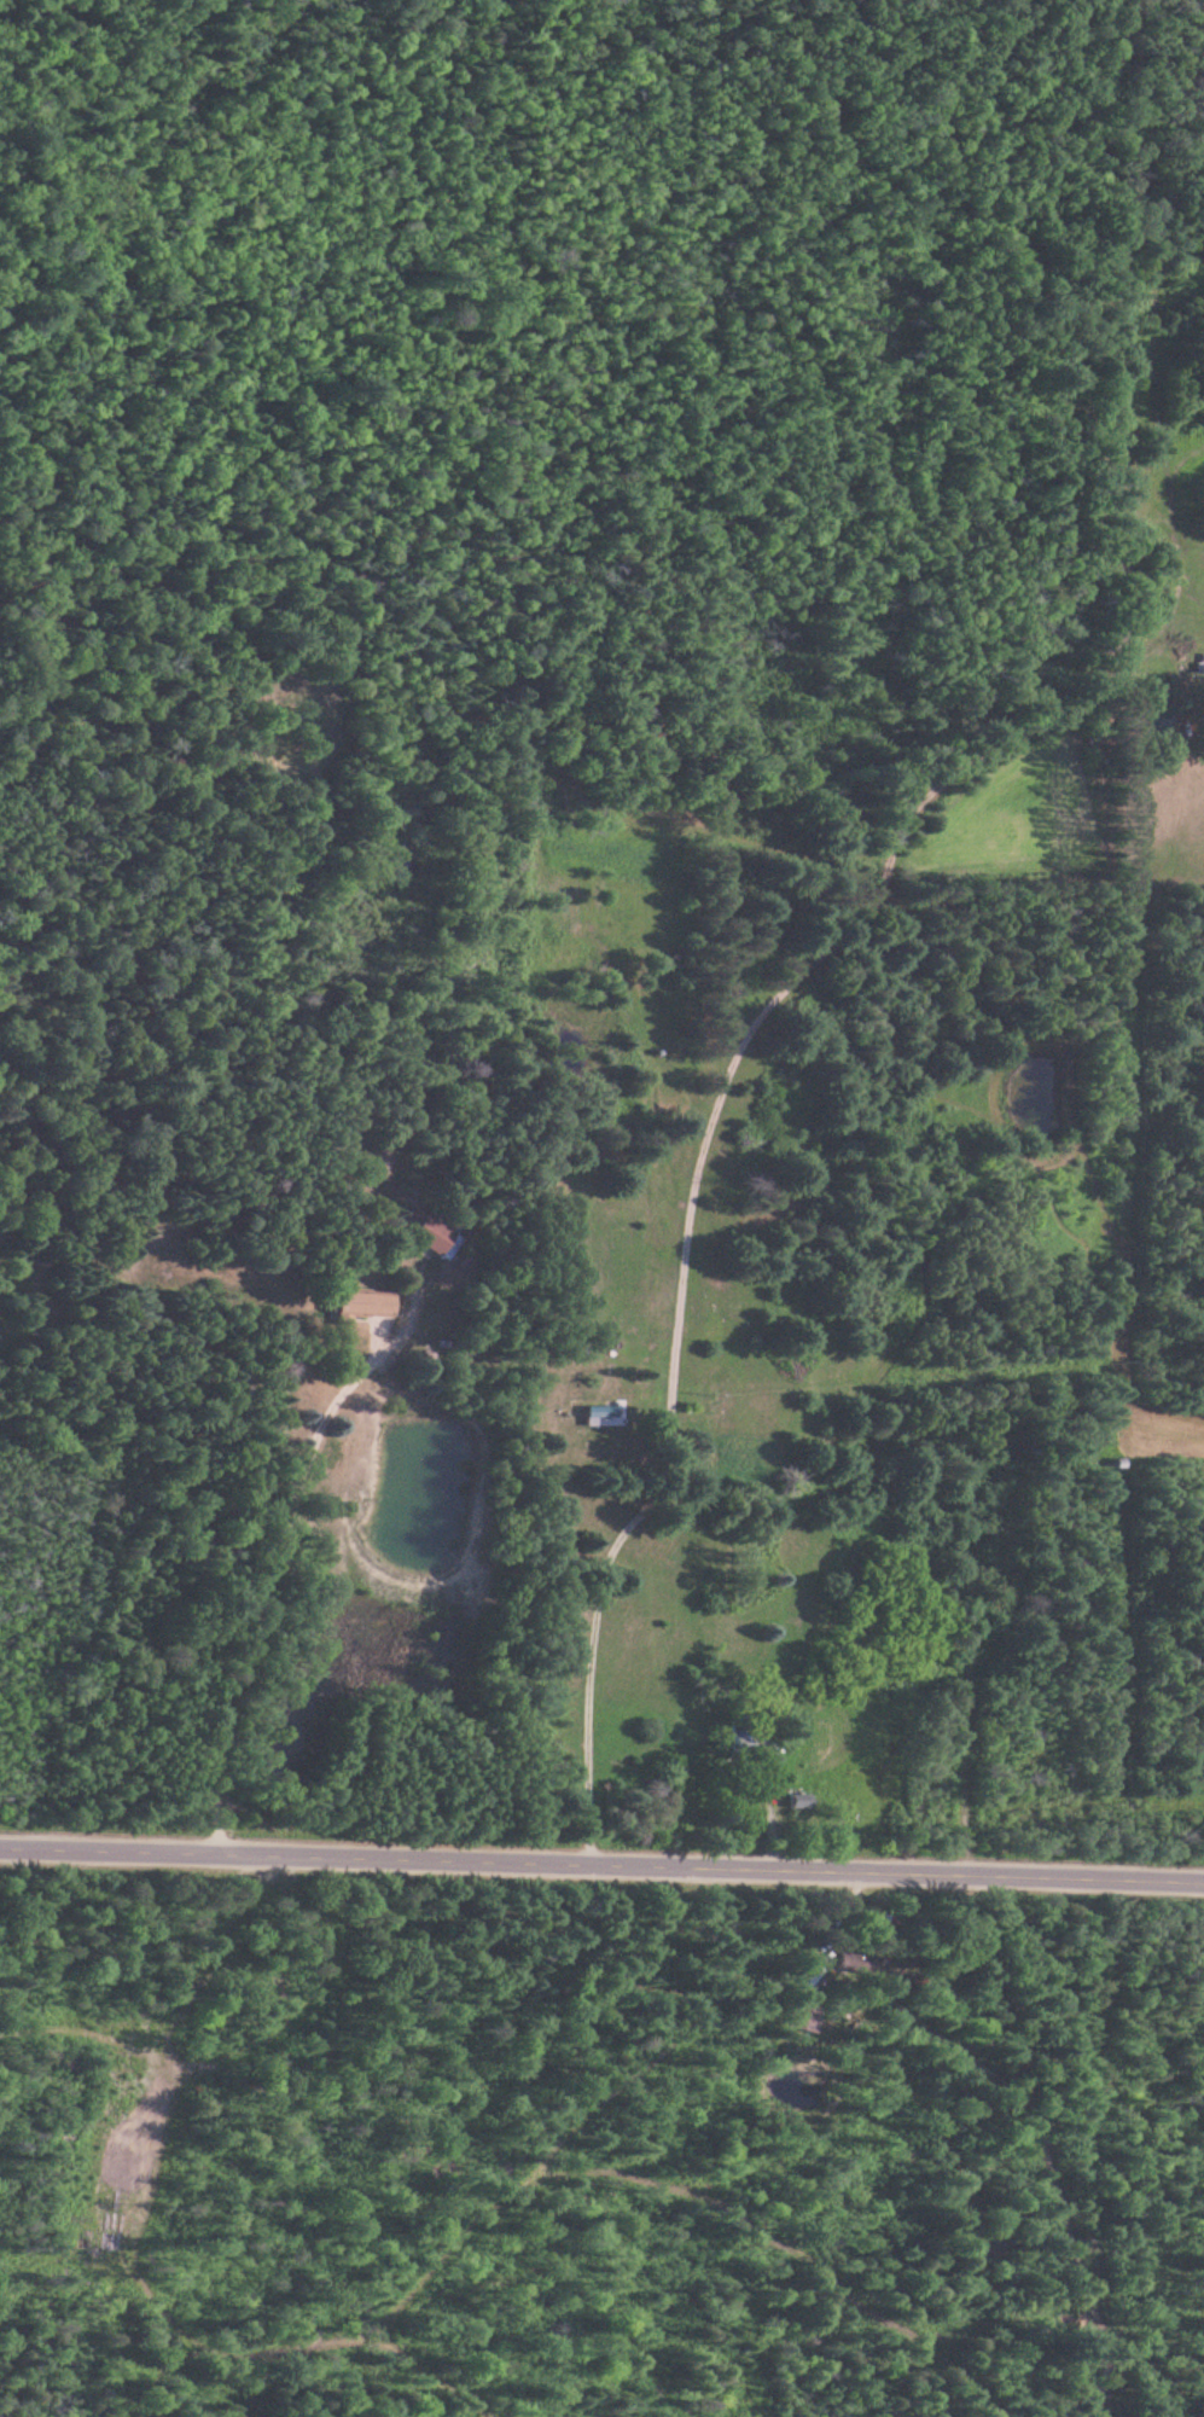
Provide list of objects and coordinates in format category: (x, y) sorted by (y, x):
building: (1153, 720)
building: (430, 1232)
building: (365, 1305)
building: (603, 1412)
building: (752, 1743)
building: (803, 1801)
road: (601, 1861)

